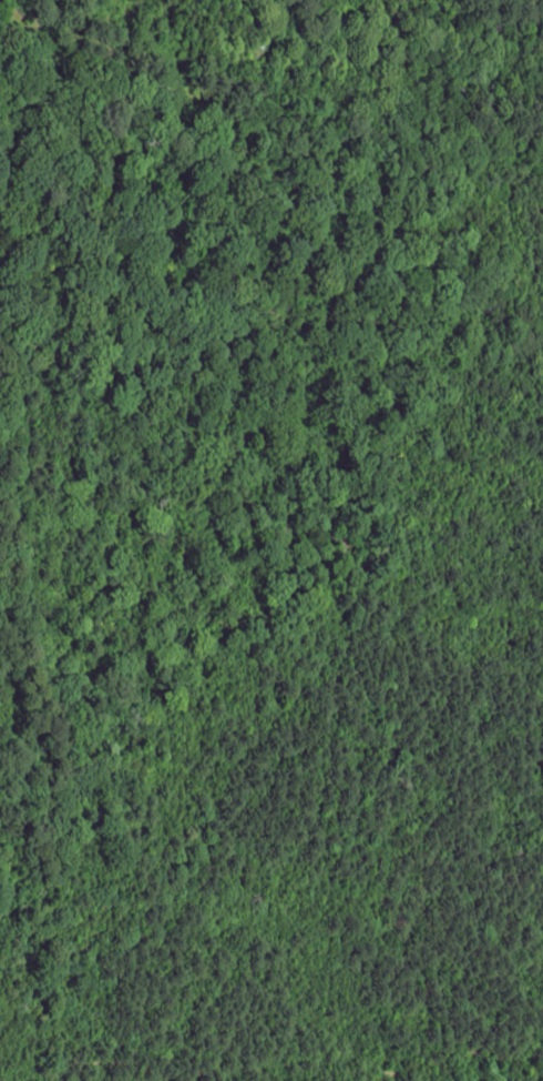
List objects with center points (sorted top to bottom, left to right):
road: (267, 304)

